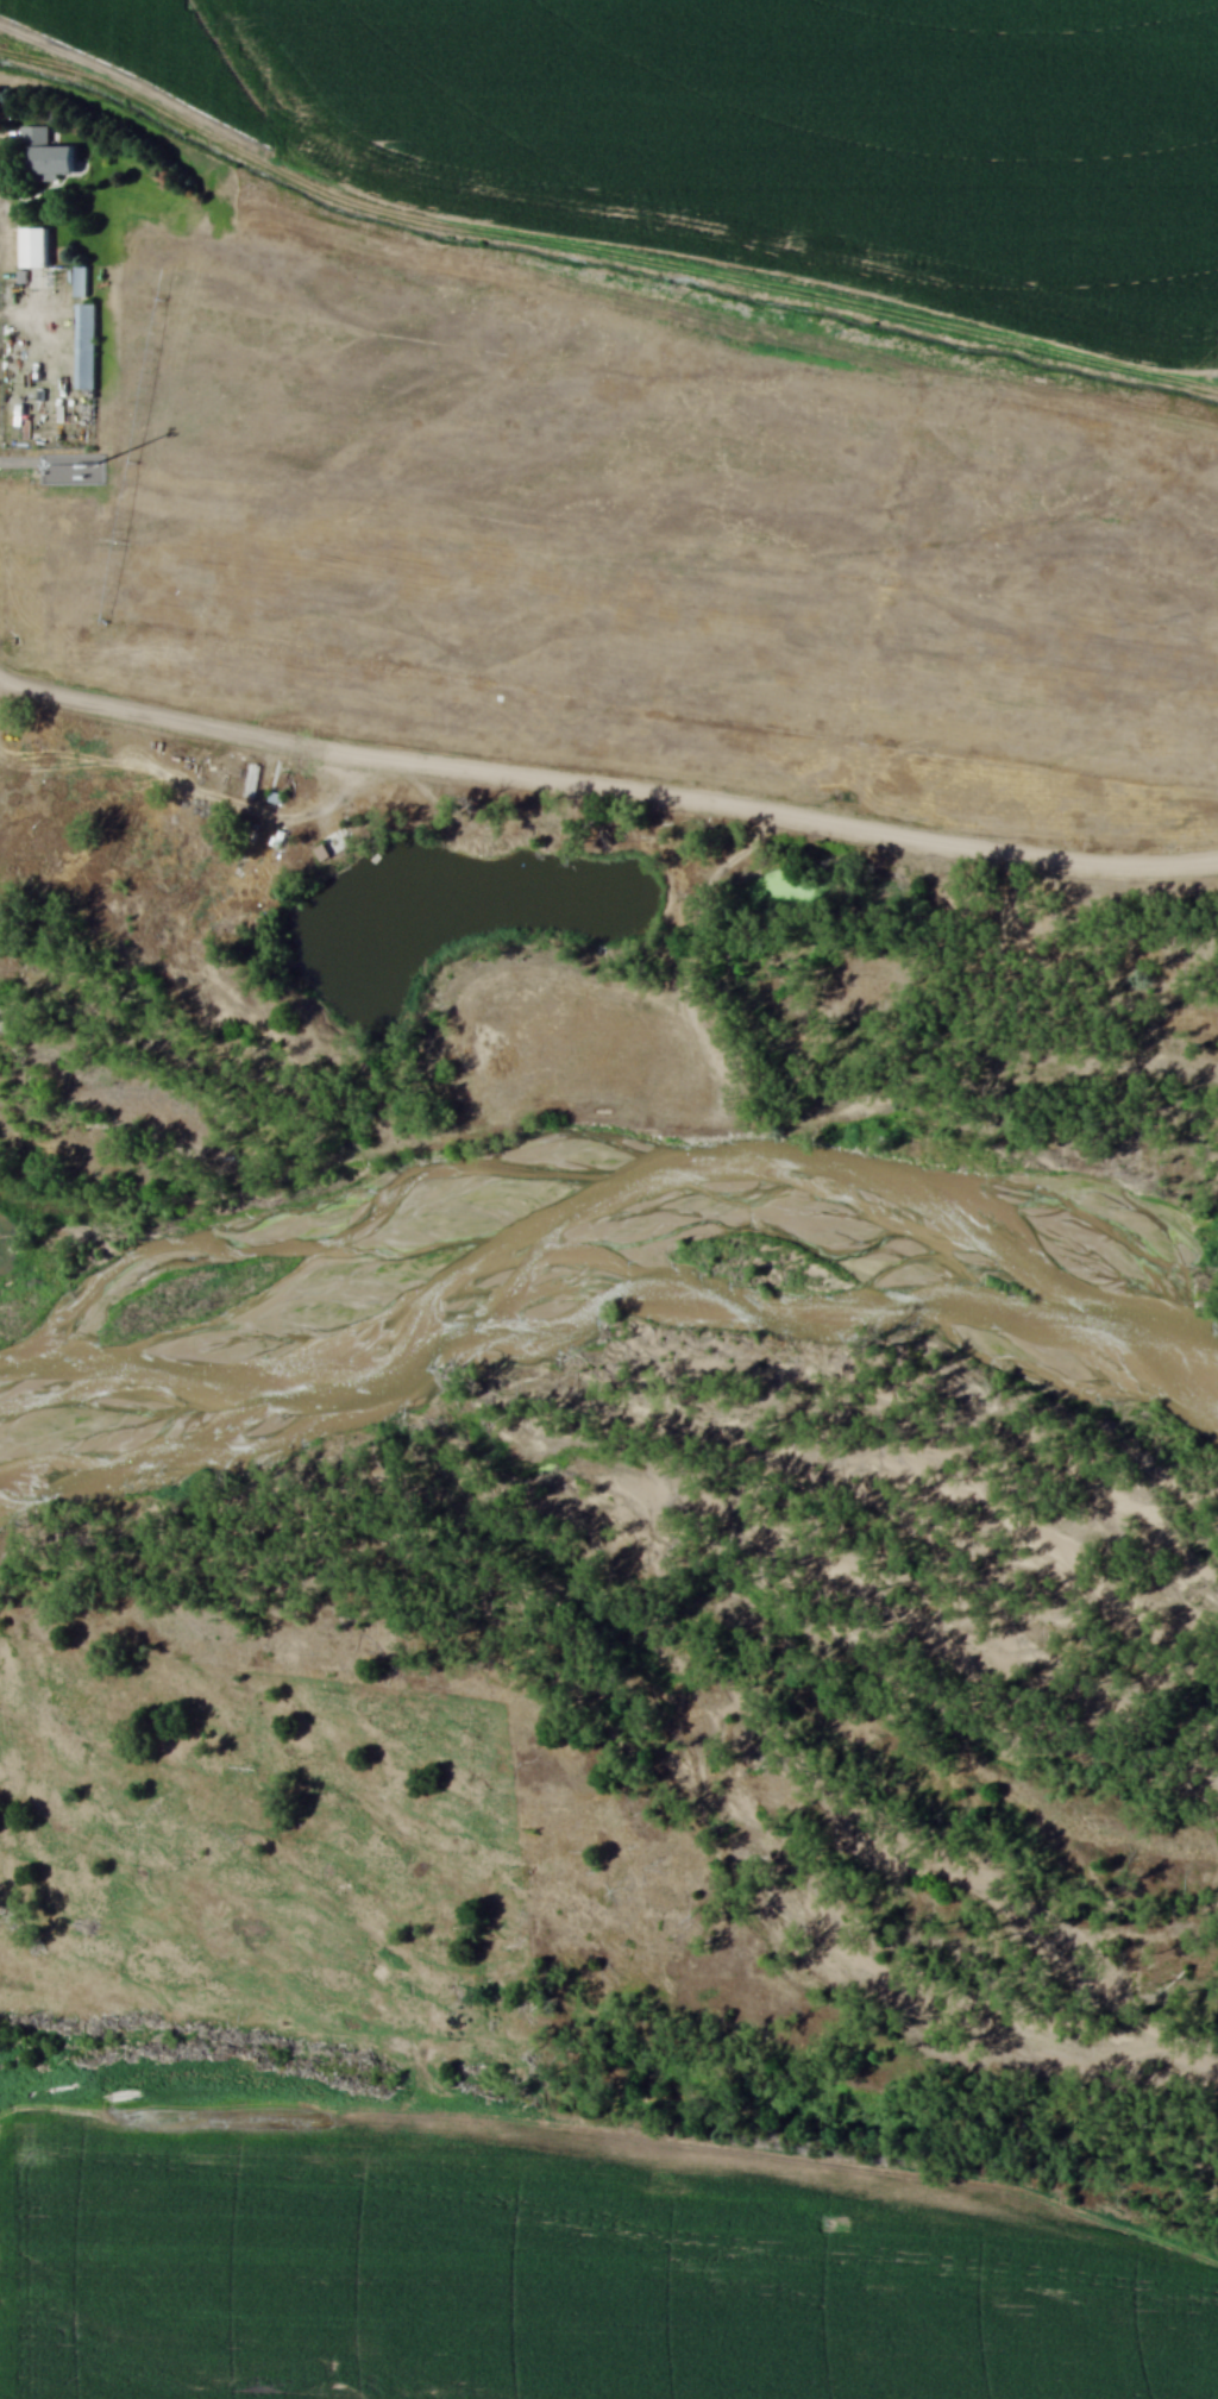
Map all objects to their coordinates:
crop: (768, 128)
building: (44, 155)
building: (37, 245)
building: (80, 281)
building: (90, 343)
road: (607, 779)
river: (586, 1271)

